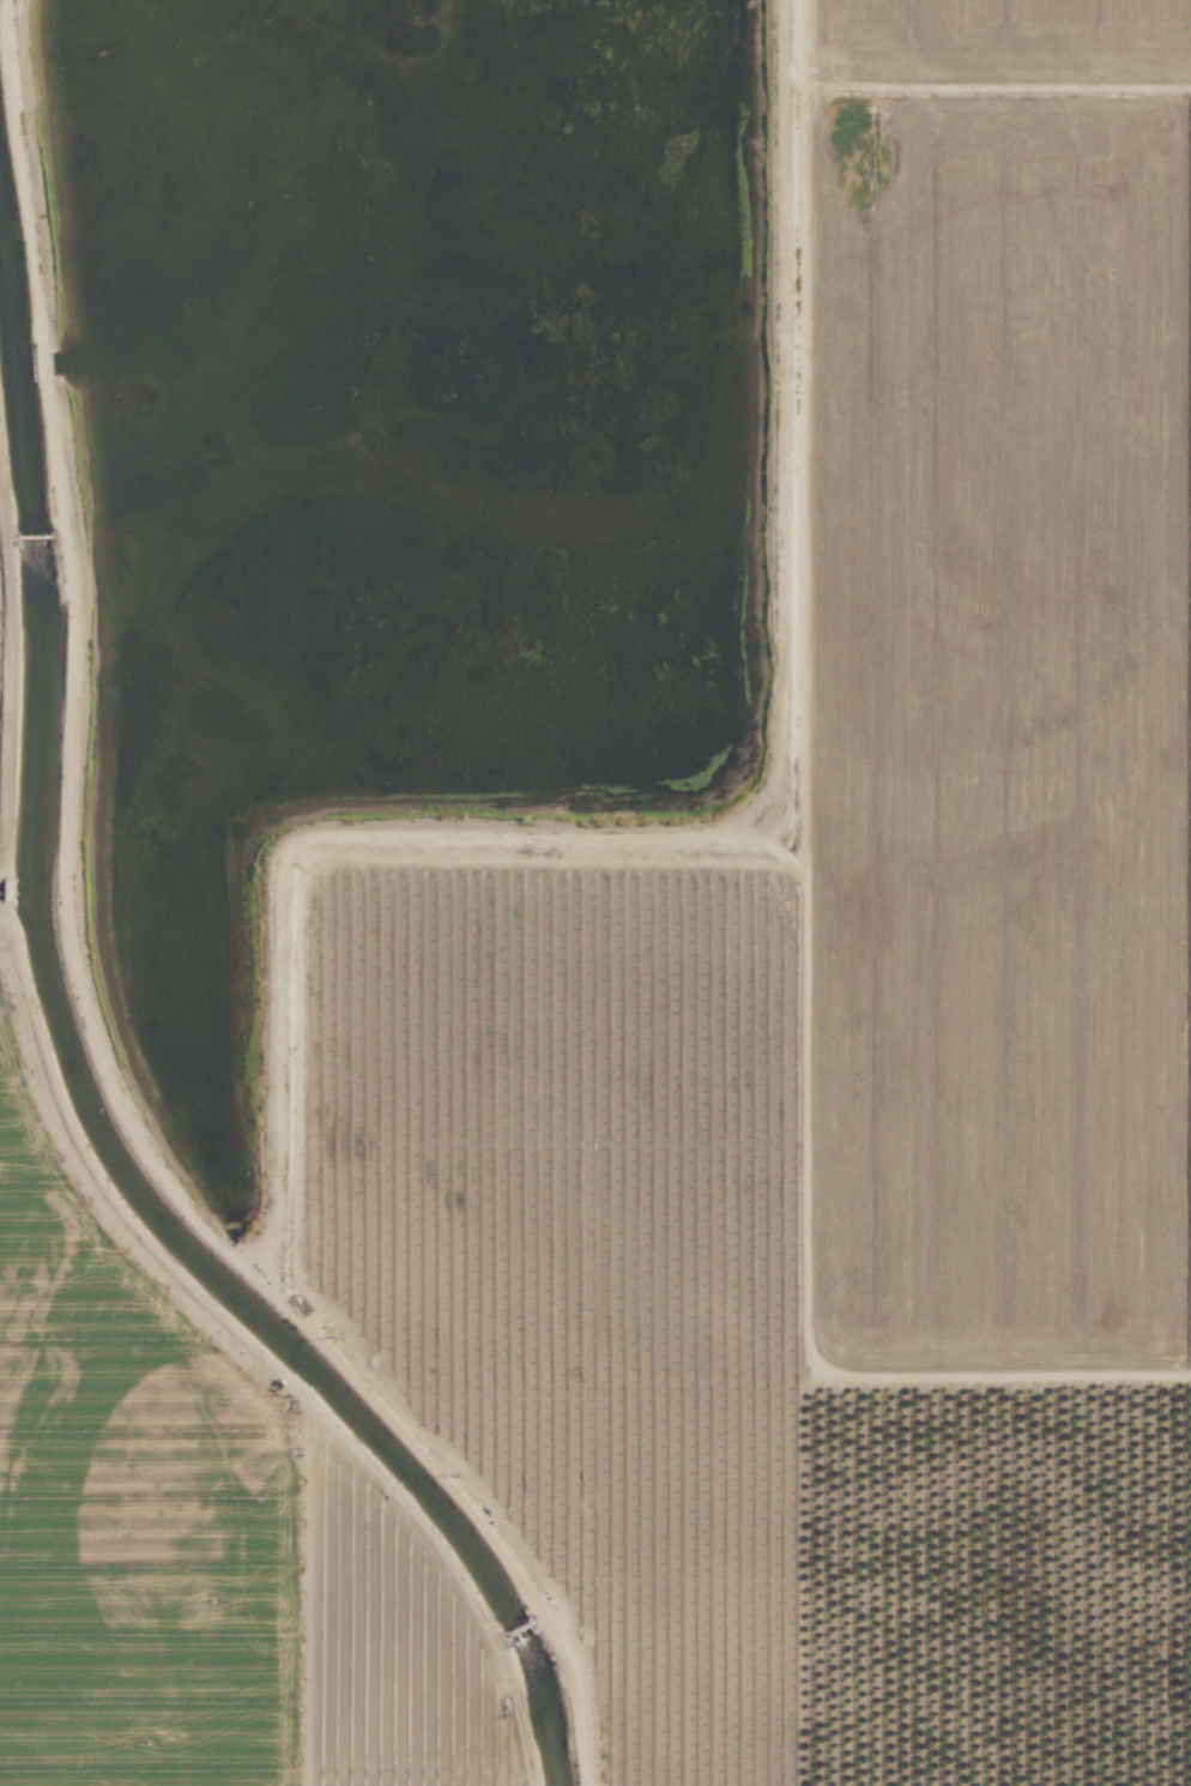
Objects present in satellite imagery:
road: (72, 976)
crop: (727, 1103)

